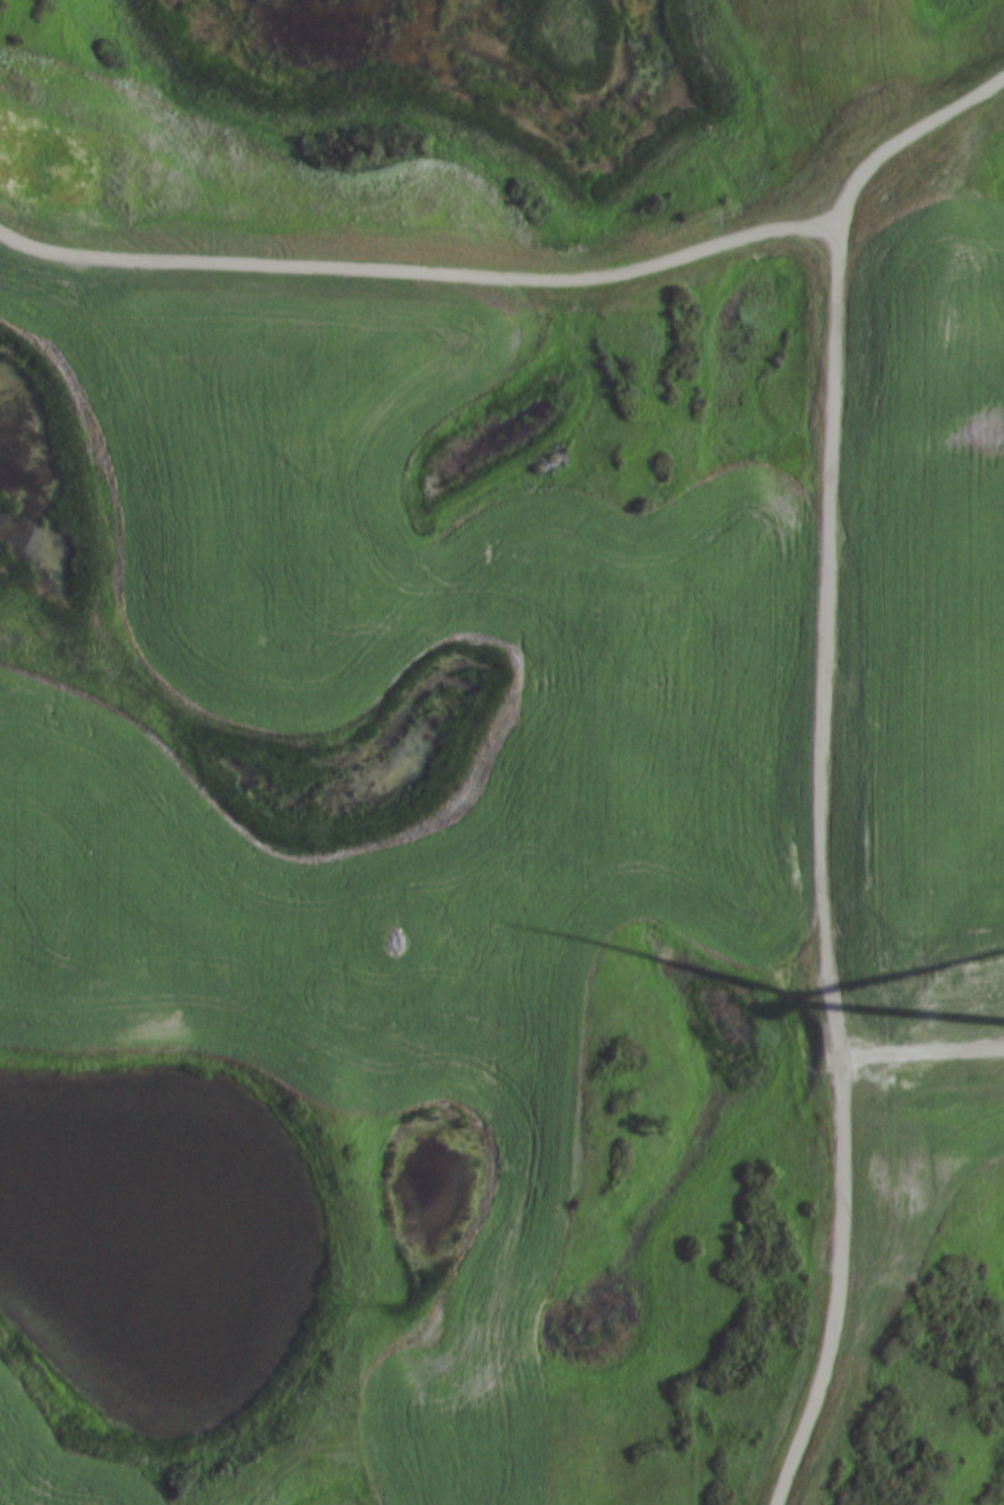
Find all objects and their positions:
road: (820, 756)
road: (921, 1060)

